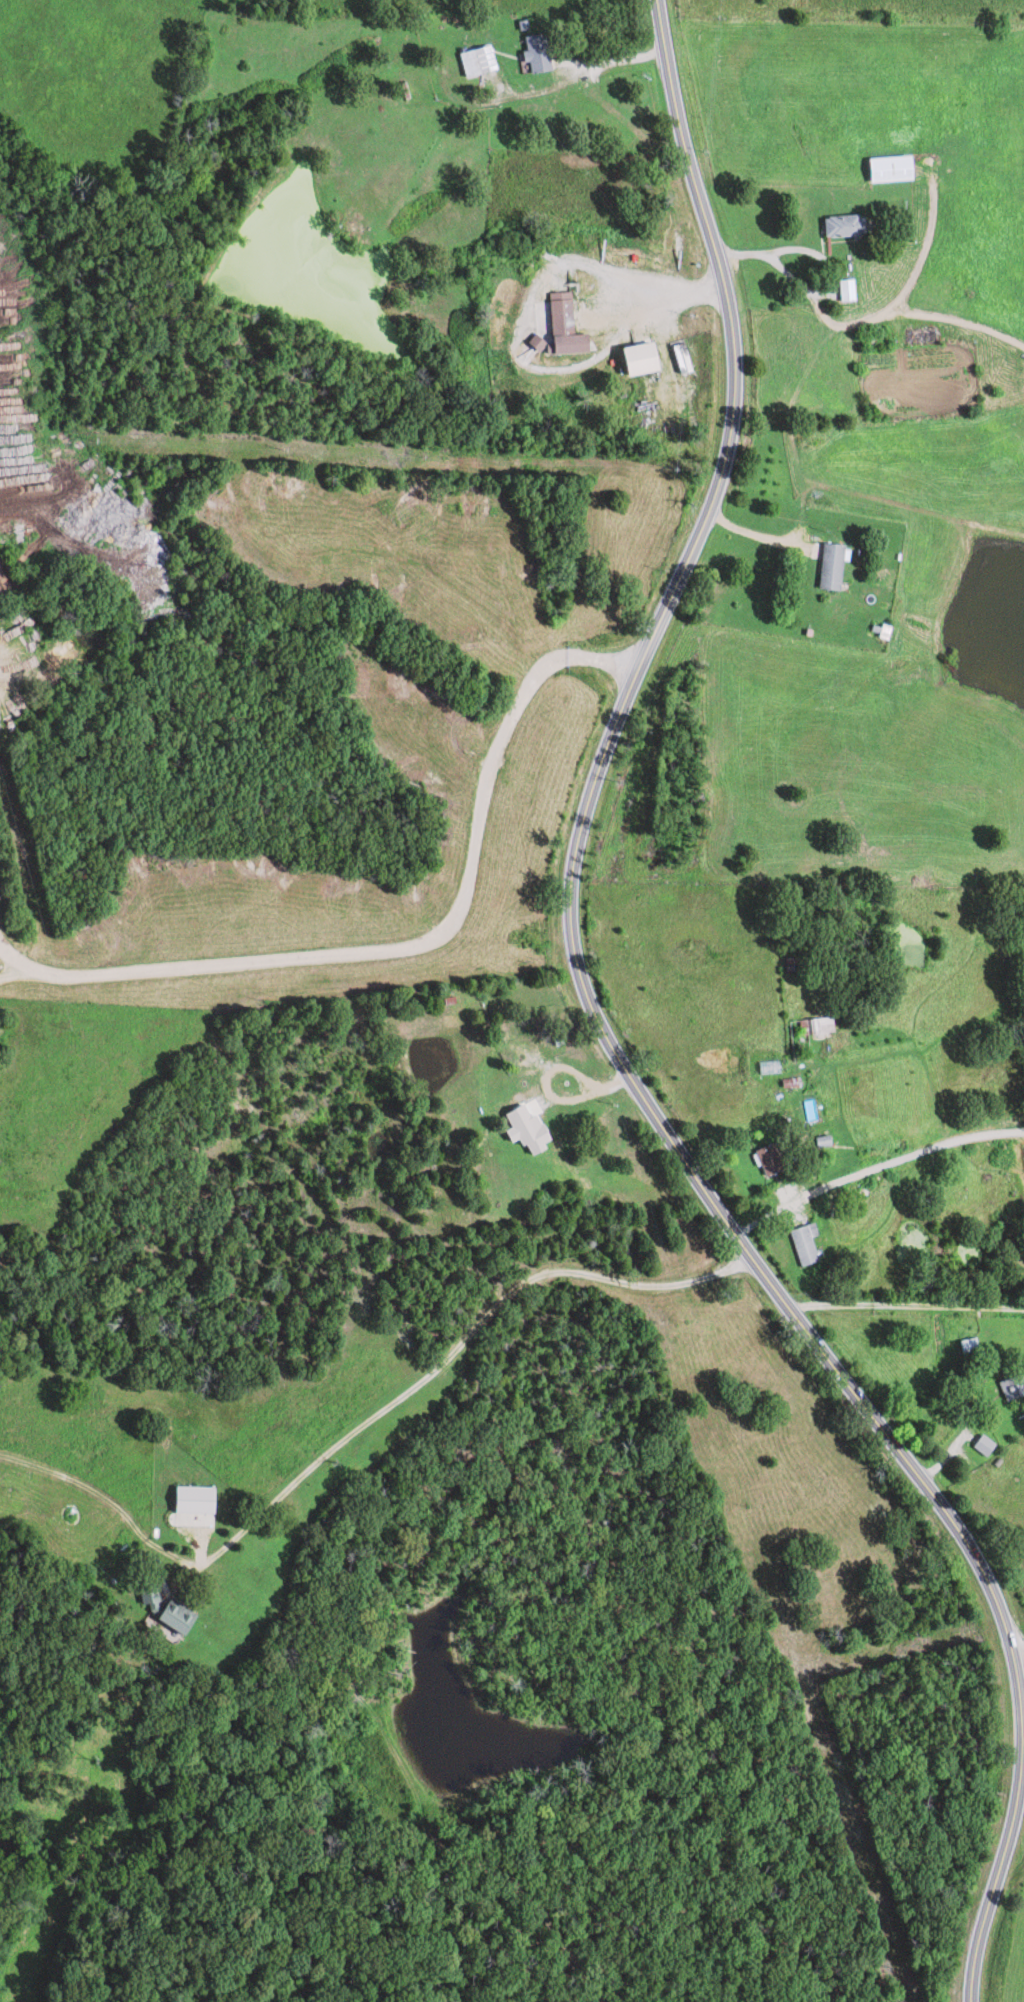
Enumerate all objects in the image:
building: (545, 53)
building: (486, 61)
building: (901, 169)
building: (853, 226)
building: (855, 290)
building: (573, 327)
building: (651, 359)
building: (840, 567)
road: (416, 943)
road: (11, 965)
road: (608, 1043)
building: (536, 1129)
building: (812, 1243)
road: (906, 1310)
building: (1017, 1388)
building: (992, 1445)
building: (204, 1499)
building: (159, 1596)
building: (186, 1617)

